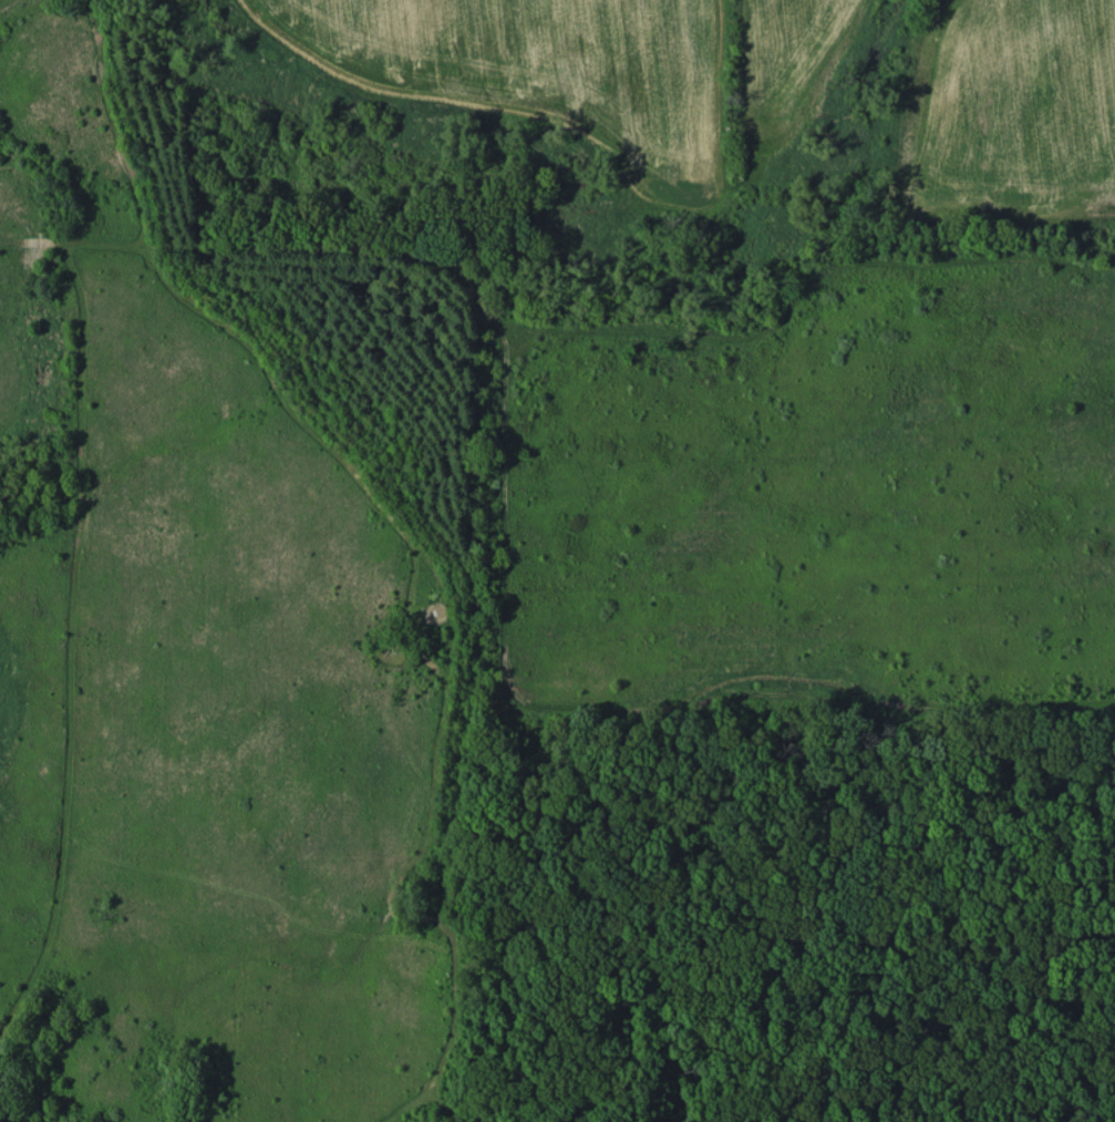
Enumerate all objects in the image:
road: (137, 194)

